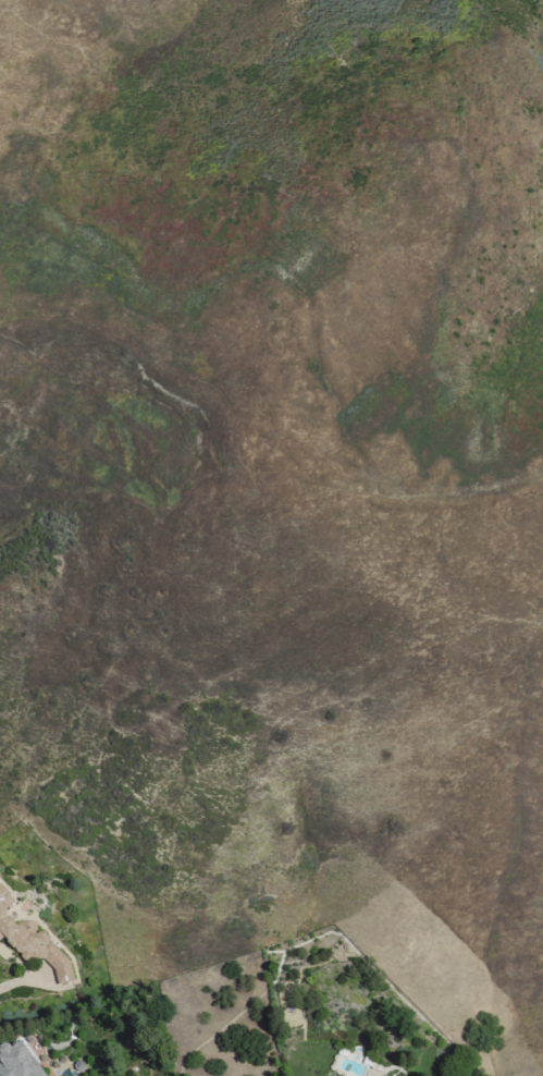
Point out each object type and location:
building: (32, 944)
road: (17, 980)
building: (17, 1060)
building: (396, 1075)

